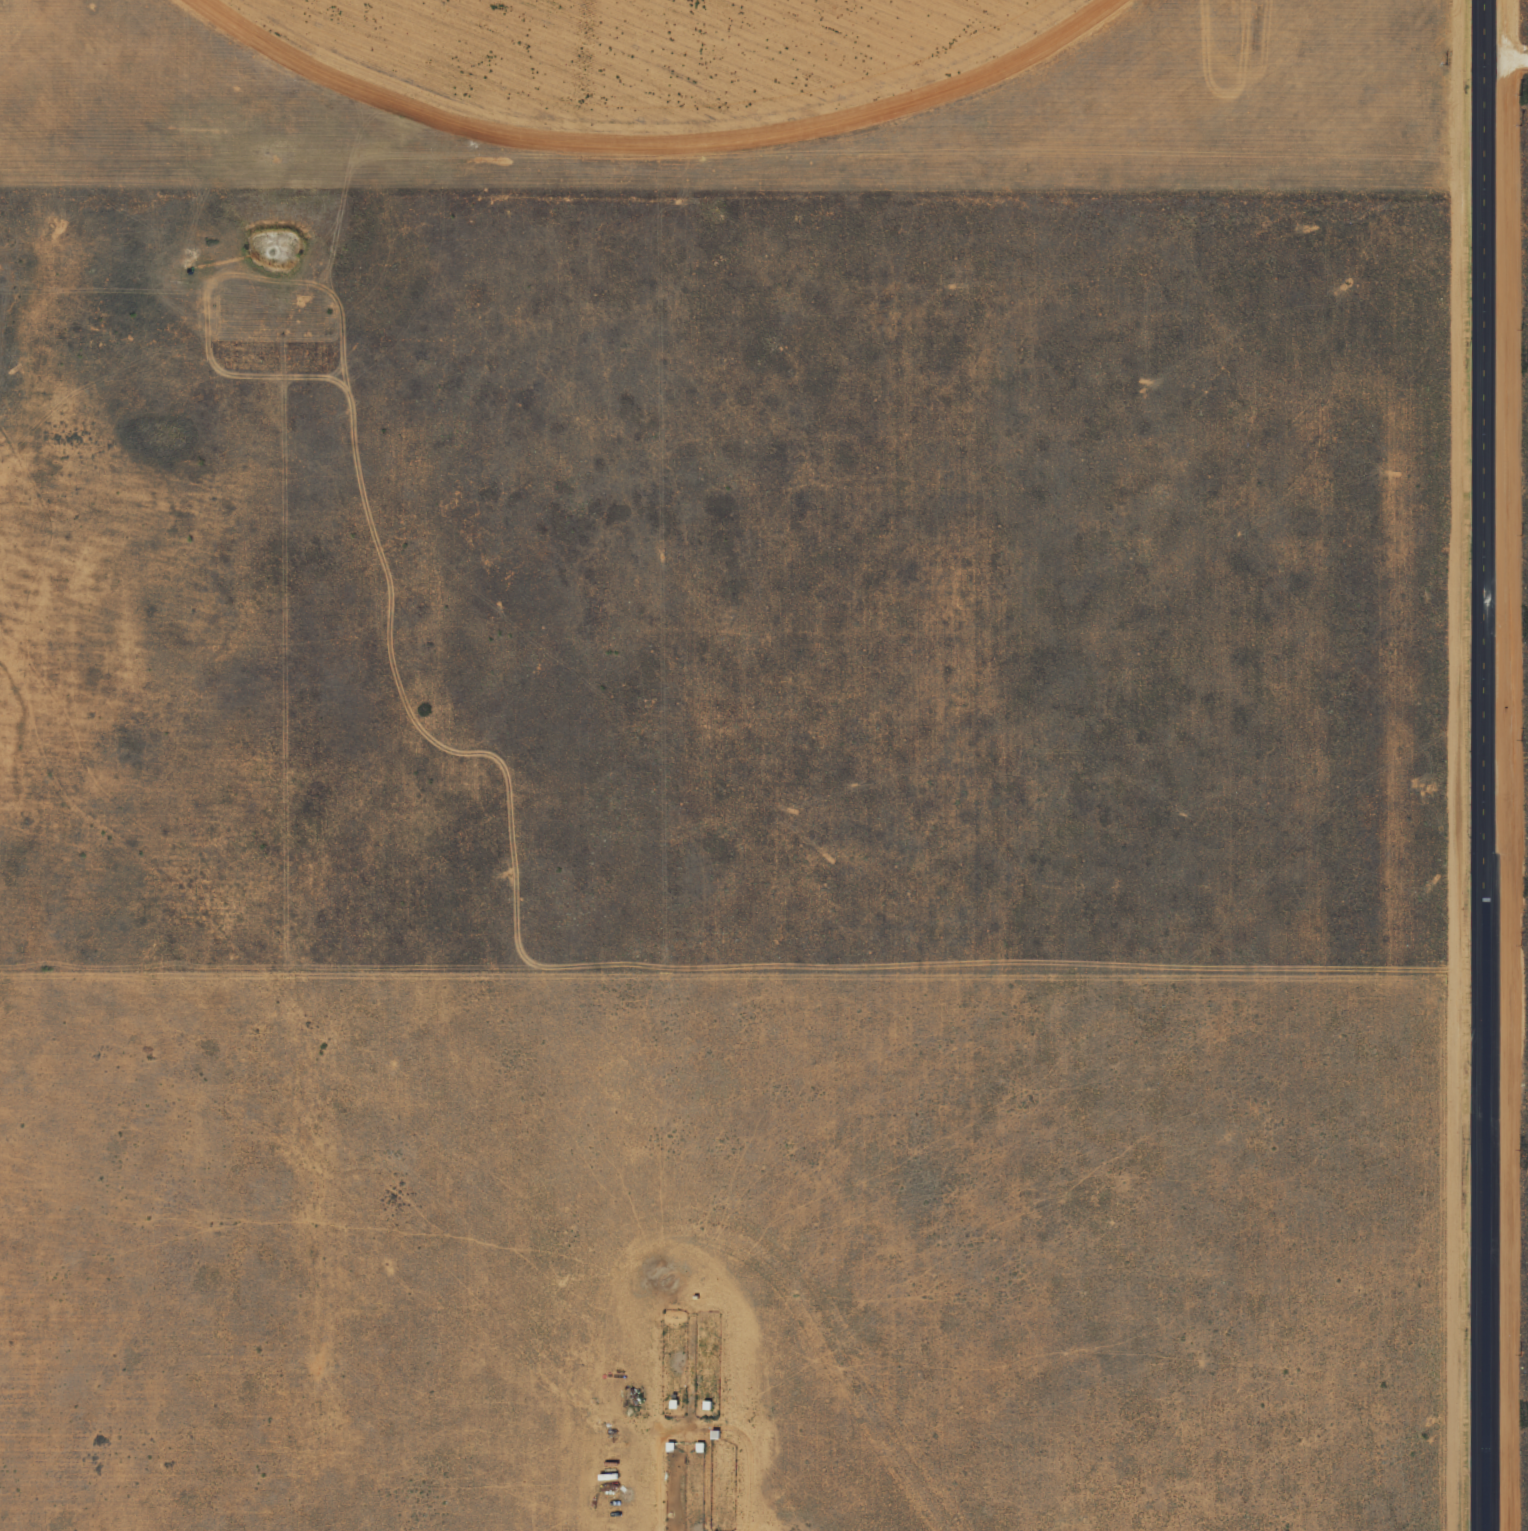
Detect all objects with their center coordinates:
road: (1477, 765)

